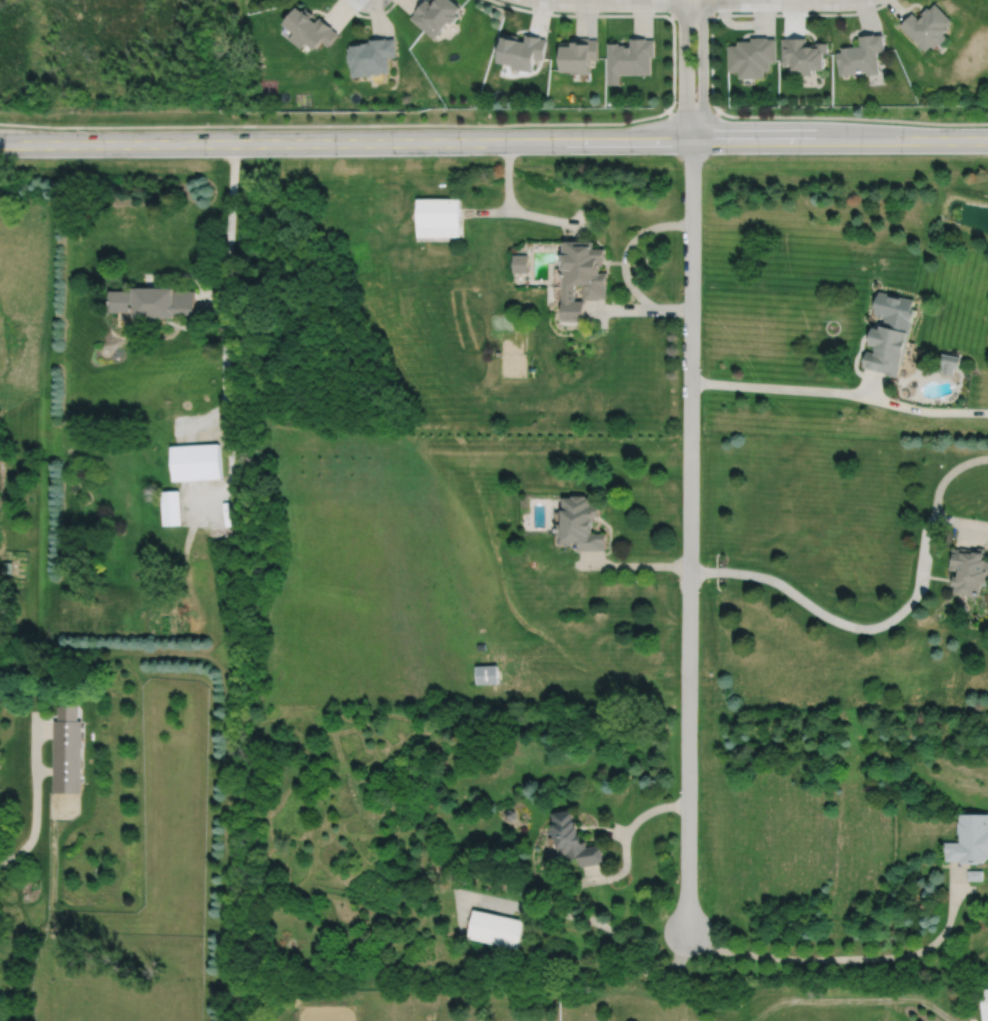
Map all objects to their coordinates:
street lamp: (507, 1)
road: (699, 2)
street lamp: (875, 4)
road: (710, 7)
road: (673, 10)
street lamp: (601, 11)
building: (435, 14)
road: (751, 14)
road: (368, 15)
road: (627, 15)
road: (693, 15)
building: (927, 25)
building: (311, 27)
building: (521, 50)
building: (803, 53)
building: (578, 54)
building: (860, 54)
building: (372, 55)
building: (752, 56)
building: (630, 58)
road: (692, 70)
street lamp: (676, 100)
road: (496, 124)
road: (494, 142)
road: (508, 177)
road: (487, 213)
building: (438, 217)
road: (549, 218)
road: (230, 222)
road: (627, 249)
building: (521, 263)
building: (582, 277)
building: (153, 301)
road: (213, 302)
road: (627, 309)
road: (675, 309)
building: (890, 333)
road: (225, 358)
building: (949, 363)
building: (902, 373)
road: (872, 384)
road: (839, 391)
road: (204, 420)
building: (196, 461)
road: (233, 472)
road: (947, 476)
road: (192, 494)
building: (171, 506)
building: (580, 521)
road: (964, 522)
road: (688, 536)
road: (188, 544)
building: (8, 565)
road: (631, 565)
building: (969, 568)
road: (842, 622)
building: (486, 673)
building: (67, 750)
road: (35, 795)
building: (509, 814)
building: (970, 839)
building: (572, 840)
road: (626, 840)
building: (975, 875)
road: (581, 917)
building: (495, 929)
road: (852, 957)
road: (696, 977)
road: (852, 1000)
building: (985, 1004)
building: (429, 1016)

